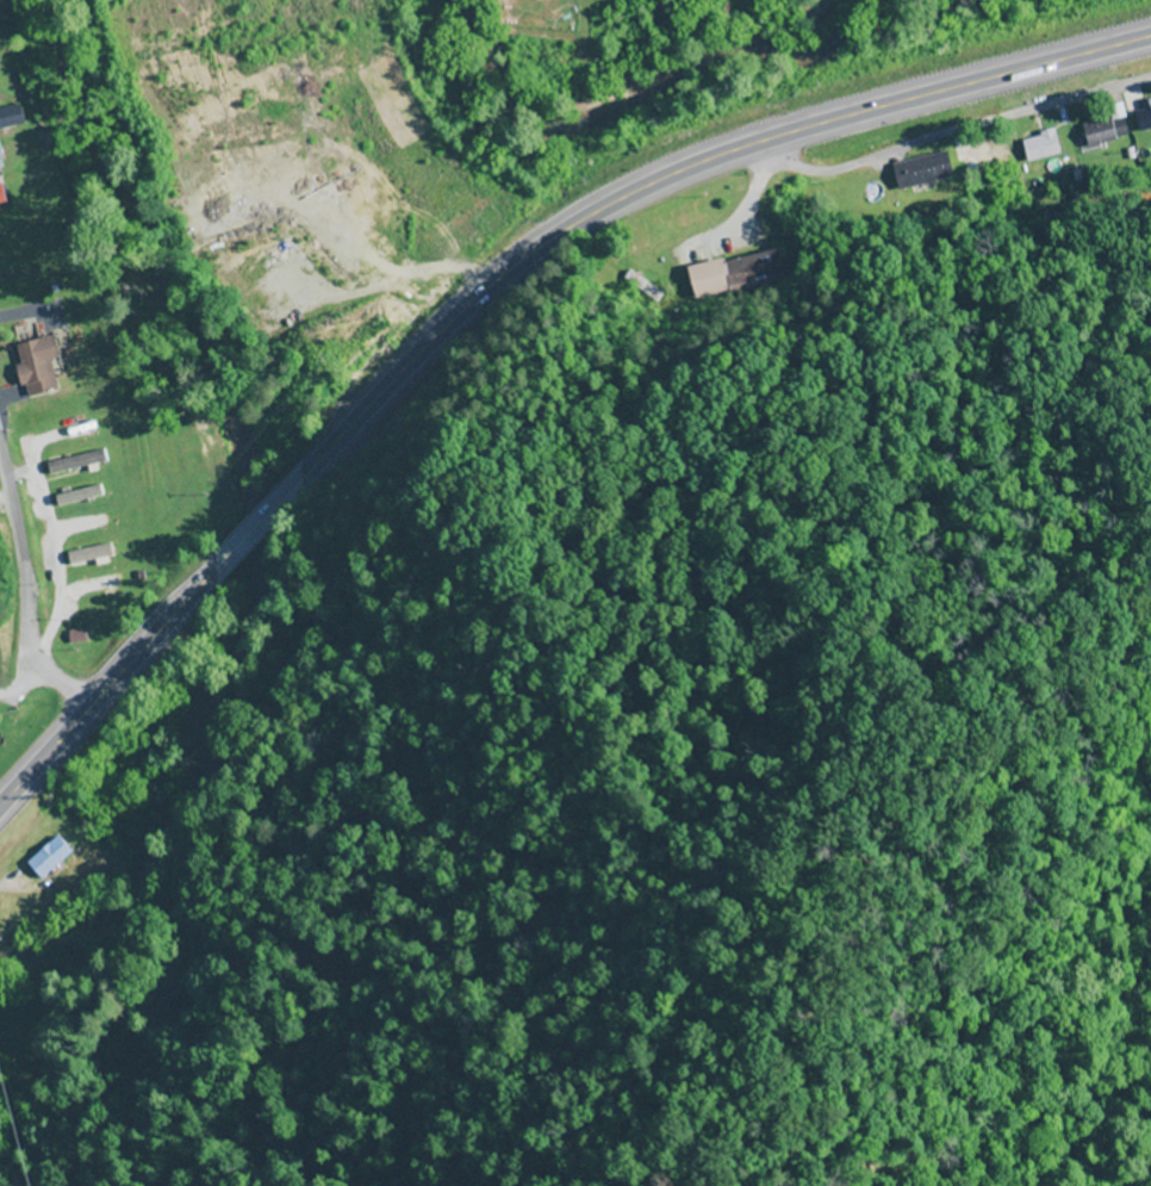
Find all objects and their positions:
building: (10, 117)
building: (1143, 119)
road: (953, 131)
building: (1105, 131)
building: (1039, 145)
building: (991, 160)
building: (923, 174)
road: (686, 223)
building: (738, 273)
road: (490, 290)
building: (33, 366)
building: (74, 462)
building: (79, 496)
building: (79, 526)
building: (98, 552)
building: (95, 584)
road: (25, 589)
building: (46, 857)

